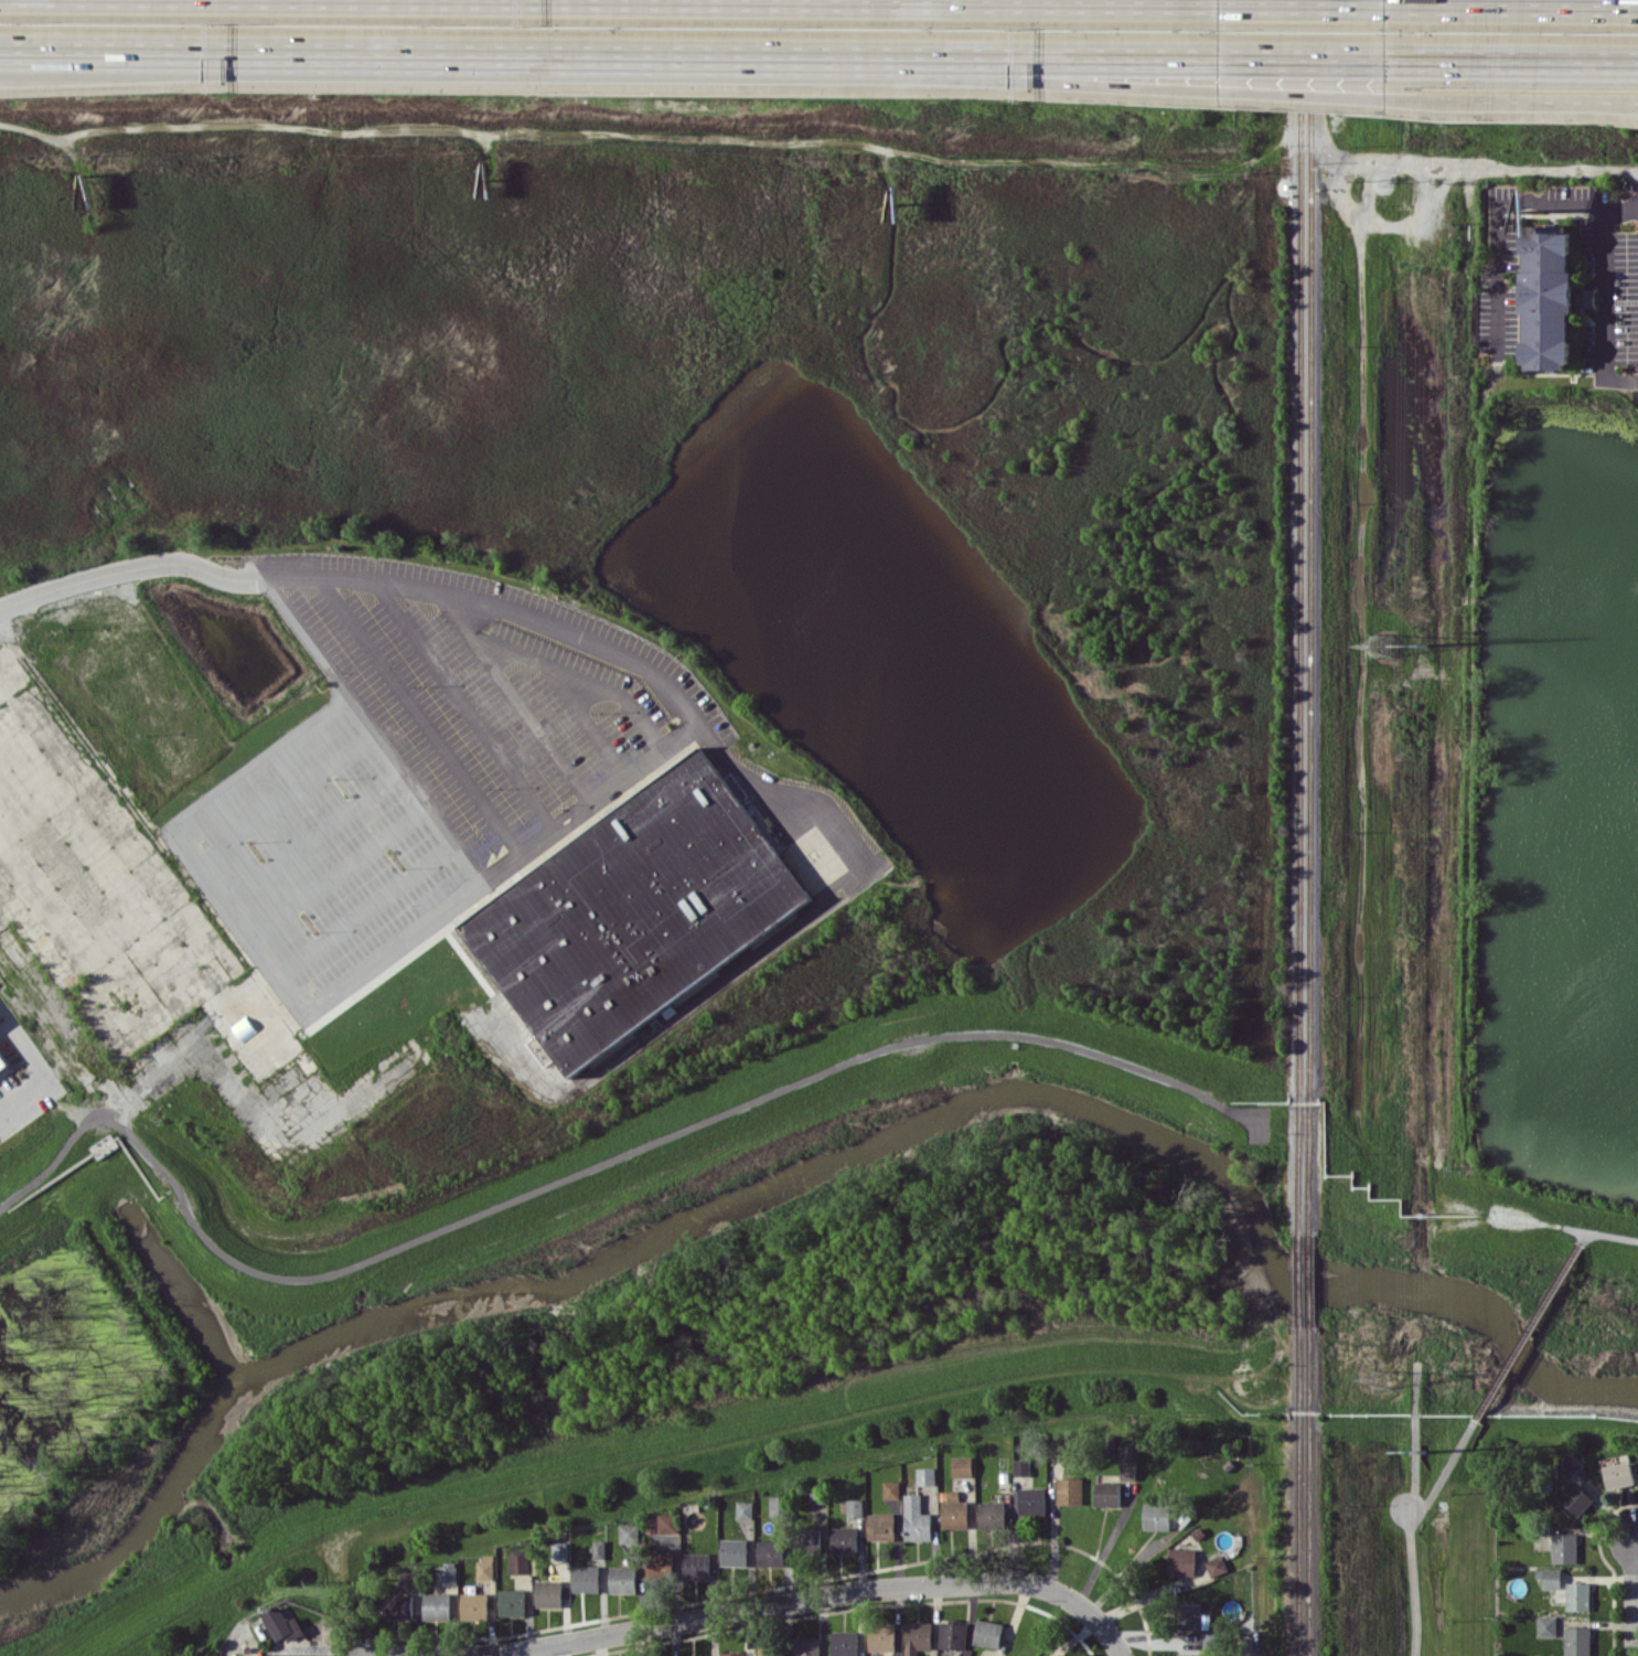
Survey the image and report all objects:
road: (1305, 0)
road: (1513, 1)
road: (377, 52)
road: (988, 56)
road: (1305, 57)
road: (1512, 58)
railway: (1300, 76)
railway: (1310, 76)
road: (987, 79)
road: (1352, 95)
road: (1605, 100)
road: (1528, 102)
road: (1605, 104)
road: (1555, 172)
road: (1497, 204)
building: (1529, 209)
building: (1548, 296)
building: (1586, 297)
road: (1602, 305)
road: (140, 567)
road: (609, 644)
power tower: (1383, 644)
power tower: (1425, 644)
road: (584, 680)
road: (514, 695)
railway: (1309, 696)
railway: (1299, 697)
road: (464, 704)
road: (591, 722)
road: (610, 783)
road: (285, 800)
building: (766, 824)
road: (312, 836)
road: (340, 874)
road: (365, 909)
building: (634, 911)
road: (746, 966)
road: (282, 983)
building: (3, 1062)
road: (30, 1067)
river: (810, 1167)
road: (1613, 1235)
road: (1584, 1238)
railway: (1297, 1286)
railway: (1309, 1286)
road: (1528, 1332)
power tower: (1381, 1379)
building: (1063, 1449)
power tower: (1424, 1450)
building: (1128, 1462)
building: (1569, 1465)
building: (963, 1466)
building: (1021, 1466)
building: (1618, 1474)
building: (927, 1475)
building: (892, 1489)
building: (1070, 1491)
building: (817, 1494)
building: (1107, 1494)
railway: (1297, 1494)
railway: (1308, 1495)
building: (1577, 1499)
building: (1032, 1500)
building: (778, 1505)
building: (855, 1507)
building: (745, 1509)
building: (953, 1509)
building: (992, 1515)
building: (1156, 1516)
road: (1407, 1518)
building: (917, 1519)
building: (668, 1523)
building: (881, 1526)
road: (1409, 1528)
building: (628, 1532)
building: (807, 1539)
building: (844, 1539)
road: (1636, 1539)
building: (1564, 1547)
building: (599, 1548)
road: (1105, 1549)
building: (559, 1550)
building: (735, 1552)
building: (770, 1552)
building: (1181, 1561)
building: (520, 1563)
building: (660, 1566)
building: (696, 1566)
building: (1216, 1566)
building: (485, 1568)
building: (447, 1574)
building: (586, 1578)
building: (1551, 1578)
building: (623, 1579)
building: (410, 1581)
building: (549, 1593)
building: (1578, 1595)
road: (1634, 1598)
building: (512, 1602)
building: (399, 1605)
building: (437, 1605)
building: (474, 1605)
road: (722, 1613)
building: (1198, 1623)
building: (283, 1624)
building: (1546, 1625)
building: (987, 1633)
road: (1107, 1634)
building: (953, 1635)
building: (881, 1637)
building: (917, 1637)
building: (1577, 1641)
building: (844, 1643)
building: (806, 1647)
building: (771, 1650)
road: (346, 1654)
building: (732, 1654)
building: (1059, 1655)

